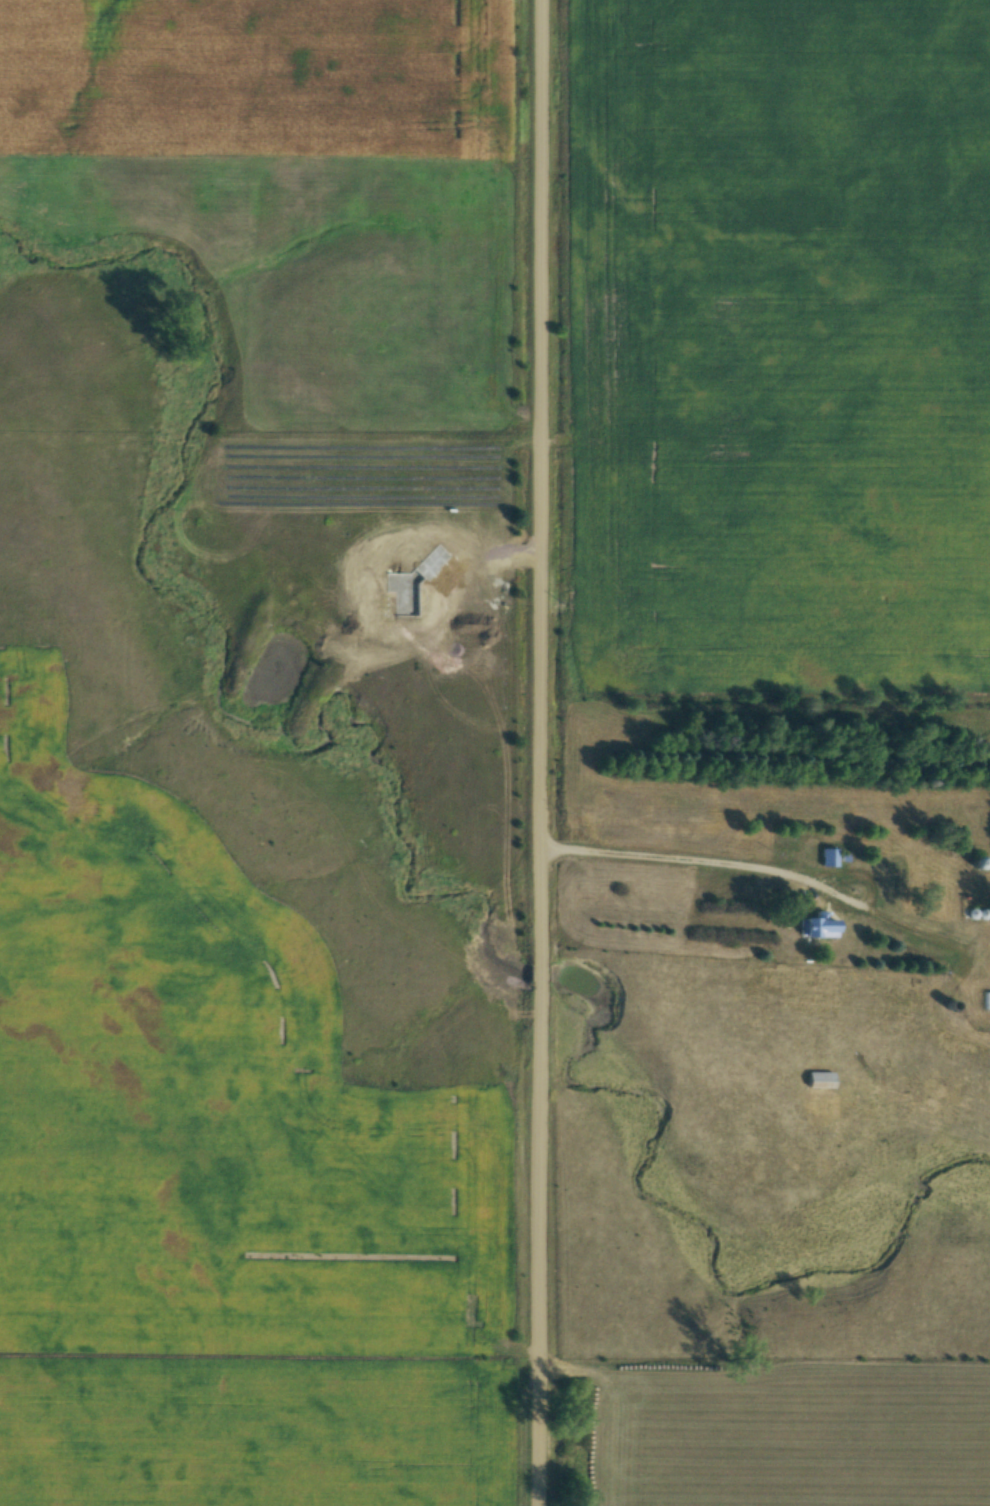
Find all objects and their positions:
road: (525, 753)
building: (829, 857)
road: (752, 865)
building: (818, 928)
building: (987, 1002)
building: (818, 1081)

